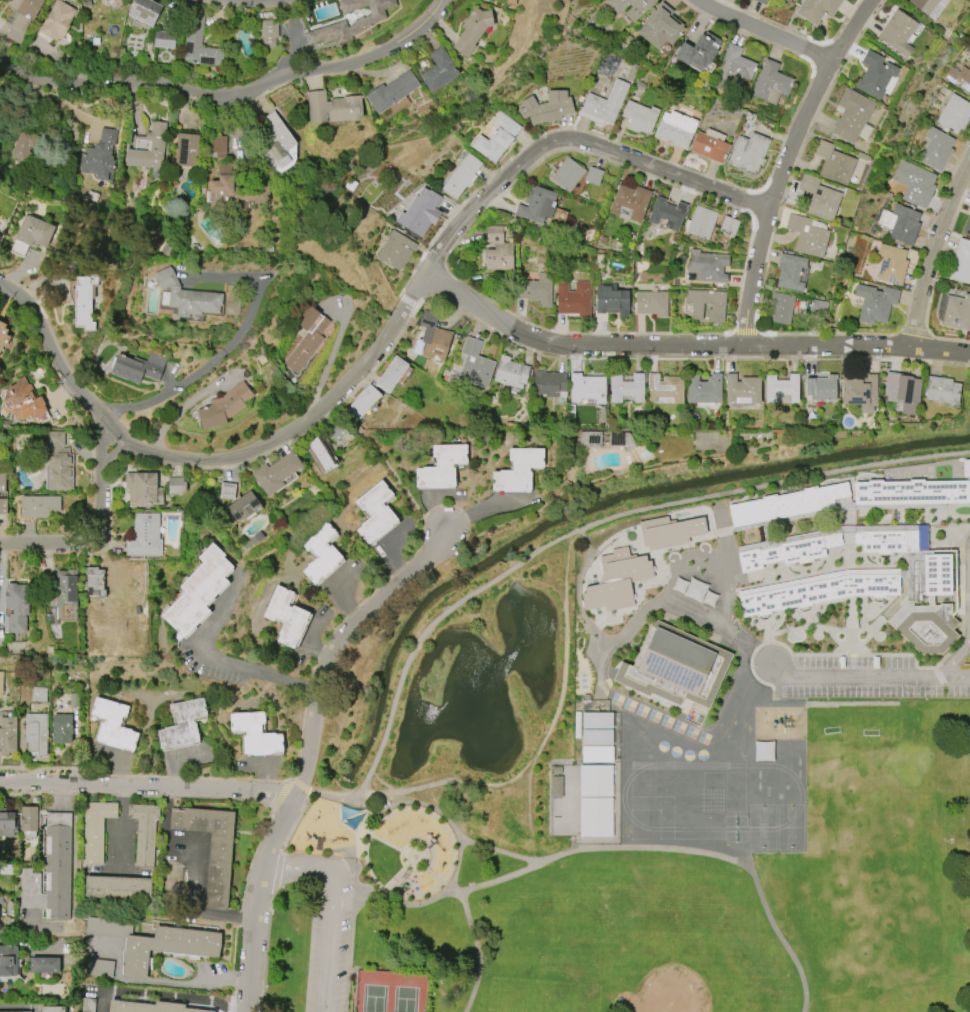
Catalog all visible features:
building: (93, 0)
building: (487, 0)
building: (786, 0)
building: (106, 1)
building: (761, 1)
road: (265, 2)
building: (929, 6)
building: (630, 7)
building: (816, 9)
building: (146, 11)
building: (23, 12)
road: (753, 15)
building: (359, 16)
building: (57, 20)
building: (660, 26)
building: (473, 30)
building: (268, 31)
building: (897, 31)
road: (761, 32)
building: (168, 39)
road: (832, 39)
building: (200, 44)
building: (699, 50)
building: (733, 69)
building: (437, 70)
building: (874, 74)
building: (959, 78)
building: (770, 82)
building: (390, 91)
road: (232, 97)
building: (603, 104)
building: (332, 107)
building: (547, 107)
building: (954, 114)
building: (852, 116)
building: (639, 117)
building: (675, 129)
building: (496, 137)
building: (276, 141)
building: (710, 145)
building: (23, 146)
building: (146, 147)
building: (218, 147)
building: (936, 149)
building: (186, 150)
building: (748, 153)
building: (98, 156)
building: (833, 162)
road: (681, 166)
building: (567, 174)
building: (460, 176)
building: (593, 176)
building: (914, 182)
building: (233, 190)
building: (91, 195)
road: (499, 195)
building: (819, 198)
building: (629, 202)
building: (537, 204)
building: (421, 211)
building: (667, 213)
building: (701, 222)
building: (901, 223)
building: (728, 225)
building: (967, 226)
building: (0, 235)
building: (31, 235)
building: (808, 235)
building: (498, 249)
building: (396, 250)
road: (933, 253)
building: (961, 262)
building: (891, 263)
building: (707, 266)
building: (790, 272)
road: (935, 277)
building: (536, 289)
building: (186, 296)
building: (573, 298)
road: (407, 300)
building: (611, 300)
building: (82, 301)
building: (651, 303)
building: (875, 303)
building: (717, 307)
building: (780, 308)
building: (956, 312)
road: (45, 319)
road: (745, 321)
road: (755, 325)
road: (746, 331)
road: (915, 332)
building: (3, 336)
building: (431, 336)
building: (306, 337)
road: (856, 346)
road: (380, 348)
road: (682, 359)
road: (380, 360)
road: (329, 364)
building: (475, 364)
building: (137, 367)
road: (204, 372)
building: (511, 372)
building: (391, 374)
road: (71, 379)
building: (548, 384)
building: (626, 387)
building: (742, 387)
building: (819, 387)
building: (704, 388)
building: (586, 389)
building: (665, 389)
building: (781, 389)
building: (942, 390)
building: (902, 391)
building: (860, 392)
building: (22, 401)
building: (363, 401)
road: (333, 403)
building: (224, 406)
road: (180, 412)
building: (336, 431)
building: (589, 439)
road: (101, 443)
road: (271, 450)
road: (113, 453)
building: (320, 453)
road: (196, 465)
building: (440, 467)
building: (60, 471)
building: (517, 471)
building: (276, 472)
building: (175, 485)
building: (142, 489)
building: (227, 490)
building: (910, 492)
building: (2, 494)
road: (417, 503)
building: (789, 504)
building: (38, 506)
building: (243, 506)
building: (375, 512)
road: (593, 524)
building: (669, 531)
building: (144, 536)
building: (892, 540)
building: (253, 541)
road: (86, 542)
building: (791, 551)
building: (320, 553)
building: (615, 580)
building: (94, 581)
building: (679, 585)
building: (695, 590)
building: (818, 590)
building: (197, 592)
building: (67, 594)
building: (709, 598)
road: (360, 603)
building: (16, 607)
building: (928, 611)
building: (286, 617)
road: (892, 654)
road: (216, 656)
road: (955, 656)
building: (677, 670)
road: (957, 673)
road: (856, 674)
building: (1, 682)
building: (38, 694)
building: (74, 700)
road: (559, 702)
building: (597, 720)
building: (113, 725)
building: (182, 725)
building: (61, 728)
park: (446, 729)
building: (7, 732)
building: (35, 734)
building: (256, 736)
building: (596, 737)
road: (305, 750)
building: (763, 751)
building: (596, 754)
road: (143, 775)
building: (595, 780)
road: (448, 781)
road: (299, 783)
building: (556, 786)
road: (147, 790)
road: (281, 792)
road: (331, 793)
road: (136, 796)
road: (380, 810)
building: (595, 817)
building: (28, 821)
road: (295, 821)
building: (7, 823)
road: (121, 829)
building: (95, 830)
building: (143, 832)
building: (209, 847)
road: (619, 849)
road: (405, 851)
road: (310, 856)
road: (456, 866)
building: (50, 872)
building: (115, 887)
road: (343, 892)
road: (448, 892)
park: (872, 895)
road: (331, 905)
road: (240, 908)
road: (197, 909)
parking lot: (328, 942)
building: (167, 947)
road: (476, 953)
building: (8, 960)
building: (42, 965)
road: (223, 975)
park: (389, 992)
road: (165, 994)
park: (667, 998)
building: (89, 1005)
building: (148, 1007)
road: (13, 1009)
building: (52, 1009)
building: (16, 1011)

